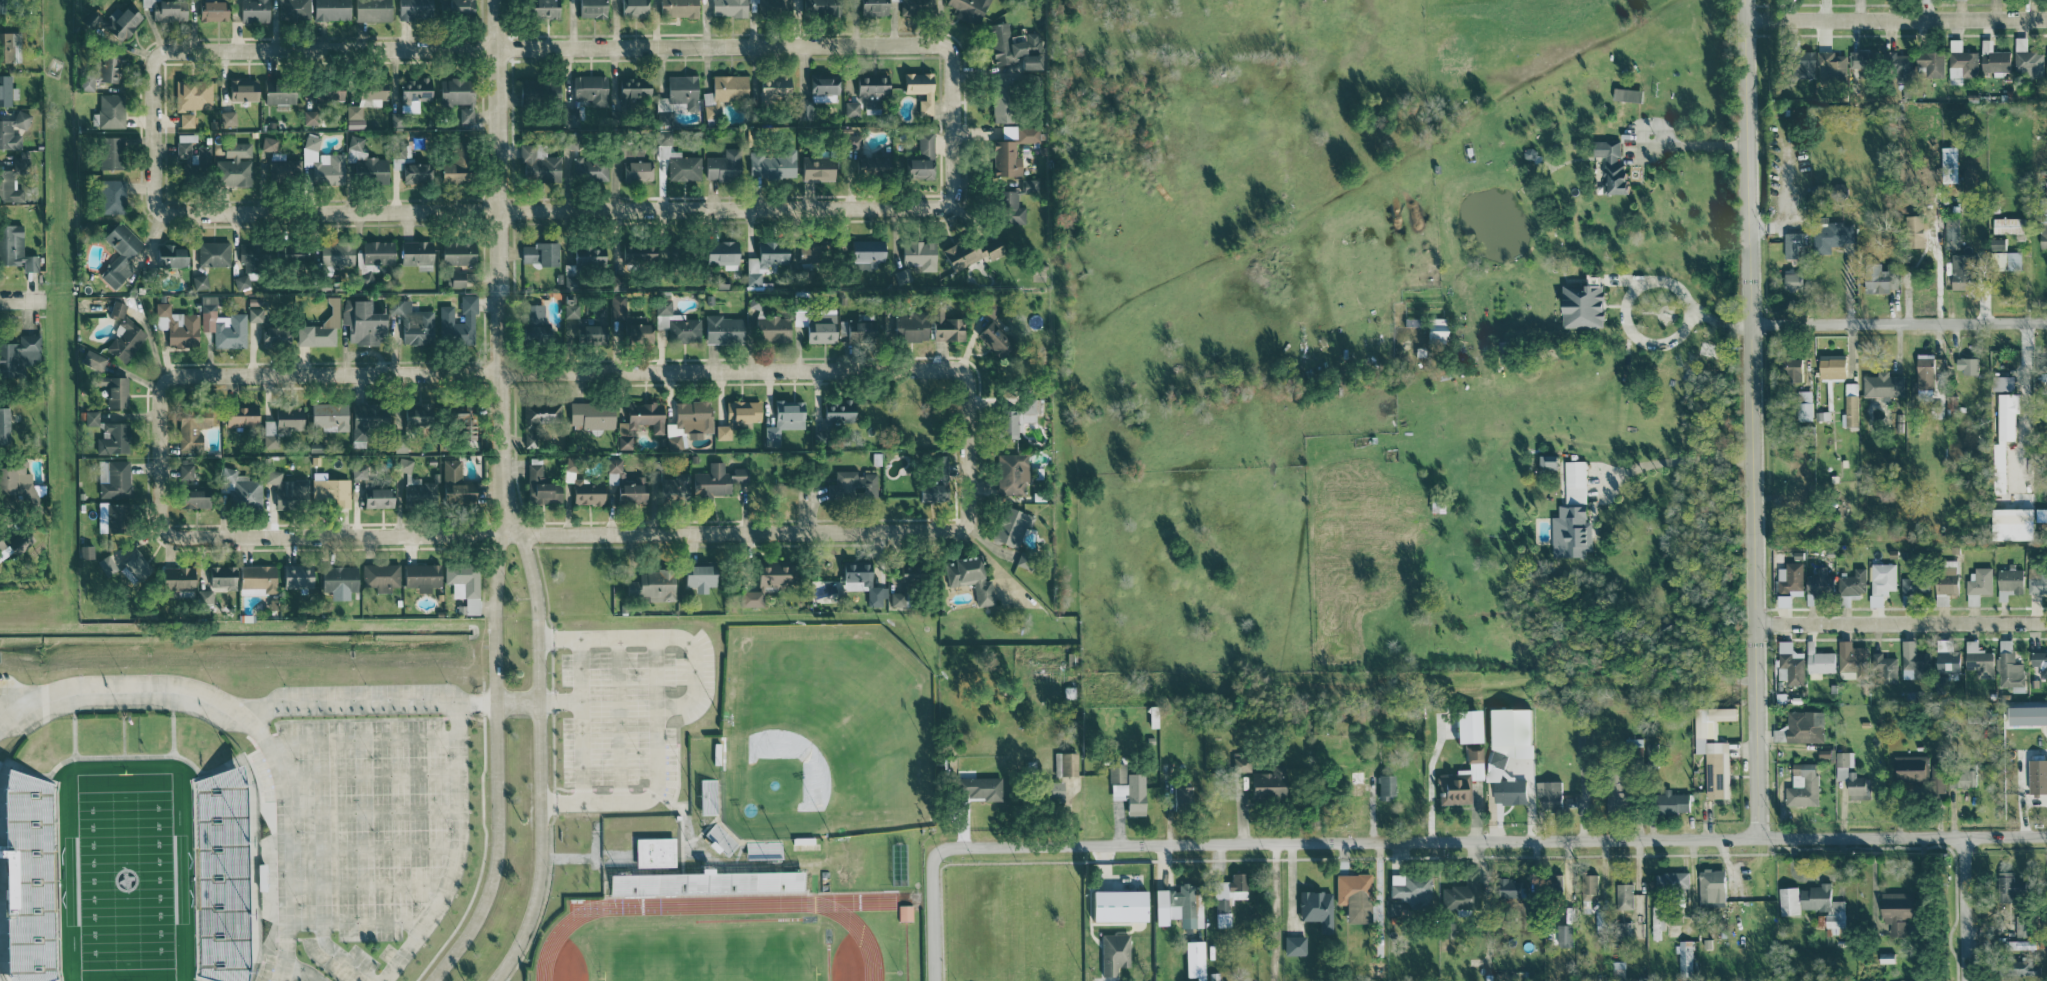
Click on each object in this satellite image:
building: (916, 4)
building: (6, 6)
building: (773, 6)
building: (817, 6)
building: (631, 7)
building: (870, 7)
building: (457, 8)
building: (675, 8)
building: (727, 8)
building: (412, 9)
building: (539, 9)
building: (587, 9)
building: (967, 9)
building: (166, 10)
building: (251, 10)
building: (292, 10)
building: (328, 10)
building: (369, 10)
building: (207, 11)
road: (1895, 18)
building: (114, 24)
building: (1030, 43)
road: (552, 46)
building: (12, 47)
building: (1007, 49)
building: (1960, 56)
building: (1992, 57)
building: (2046, 58)
building: (1859, 59)
building: (2026, 59)
building: (1930, 62)
building: (1800, 64)
building: (1897, 65)
building: (1830, 67)
building: (97, 70)
building: (768, 85)
building: (822, 88)
building: (240, 89)
building: (536, 89)
building: (587, 89)
building: (917, 89)
building: (412, 90)
building: (680, 90)
building: (868, 90)
building: (6, 91)
building: (370, 91)
building: (453, 91)
building: (627, 91)
building: (721, 92)
building: (275, 94)
building: (1625, 94)
building: (191, 95)
building: (1000, 100)
building: (850, 108)
building: (108, 110)
building: (802, 110)
building: (351, 112)
building: (225, 117)
building: (464, 117)
building: (567, 117)
building: (184, 120)
building: (13, 131)
building: (849, 141)
building: (182, 144)
road: (1696, 144)
building: (1009, 149)
building: (399, 151)
building: (107, 152)
building: (919, 158)
building: (676, 161)
building: (232, 163)
building: (279, 163)
building: (322, 163)
building: (363, 163)
building: (536, 164)
building: (770, 164)
building: (452, 165)
building: (631, 165)
building: (721, 165)
building: (1610, 165)
building: (867, 166)
building: (588, 168)
building: (813, 168)
building: (413, 173)
building: (10, 188)
building: (108, 196)
building: (1008, 208)
road: (551, 210)
building: (2044, 222)
building: (2009, 226)
building: (1912, 231)
building: (1950, 232)
building: (1830, 236)
building: (1995, 243)
building: (1793, 244)
building: (17, 248)
building: (246, 251)
building: (812, 251)
building: (116, 252)
building: (374, 252)
building: (413, 252)
building: (455, 252)
building: (633, 252)
building: (969, 252)
building: (211, 253)
building: (536, 253)
building: (719, 253)
building: (286, 254)
building: (333, 254)
building: (863, 254)
building: (917, 255)
building: (168, 256)
building: (585, 256)
building: (763, 260)
building: (2004, 260)
road: (499, 267)
building: (1959, 271)
building: (455, 278)
building: (1874, 278)
building: (199, 283)
building: (240, 283)
road: (1675, 287)
road: (21, 301)
building: (1580, 305)
building: (569, 310)
building: (253, 315)
road: (1897, 321)
building: (456, 322)
building: (628, 322)
building: (408, 323)
building: (361, 324)
building: (675, 324)
building: (221, 325)
building: (943, 325)
building: (175, 326)
building: (816, 326)
building: (907, 327)
building: (317, 328)
building: (770, 328)
building: (589, 329)
building: (721, 330)
building: (1433, 330)
building: (854, 331)
building: (122, 335)
building: (271, 335)
building: (991, 338)
road: (1638, 338)
building: (90, 360)
building: (1966, 365)
building: (1831, 367)
building: (1790, 369)
building: (1924, 370)
road: (562, 371)
building: (1883, 385)
building: (111, 390)
building: (1803, 404)
building: (1850, 405)
building: (1027, 409)
building: (740, 411)
building: (834, 413)
building: (541, 414)
building: (237, 415)
building: (409, 415)
building: (588, 415)
building: (326, 416)
building: (691, 416)
building: (87, 418)
building: (456, 418)
building: (783, 419)
road: (1749, 419)
building: (363, 420)
building: (281, 422)
building: (637, 422)
building: (1006, 424)
building: (6, 426)
building: (189, 430)
building: (721, 432)
building: (2002, 438)
building: (110, 439)
building: (673, 441)
road: (1678, 460)
building: (402, 465)
building: (939, 469)
building: (183, 471)
building: (612, 471)
building: (1010, 474)
building: (112, 479)
building: (715, 480)
building: (452, 483)
building: (853, 484)
building: (21, 486)
building: (538, 487)
building: (672, 488)
building: (284, 489)
building: (238, 490)
building: (417, 490)
building: (329, 491)
building: (630, 492)
building: (584, 493)
building: (374, 497)
building: (189, 499)
building: (1571, 515)
building: (106, 517)
building: (2043, 521)
building: (2011, 523)
building: (1010, 528)
road: (562, 533)
building: (20, 545)
building: (83, 552)
building: (1777, 559)
building: (131, 563)
building: (104, 565)
building: (768, 574)
building: (904, 574)
building: (298, 576)
building: (224, 577)
building: (381, 577)
building: (422, 577)
building: (697, 577)
building: (179, 578)
building: (967, 578)
building: (1789, 579)
building: (259, 580)
building: (340, 580)
building: (2037, 580)
building: (1852, 582)
building: (1880, 582)
building: (2008, 582)
building: (865, 584)
building: (1817, 585)
building: (1913, 585)
building: (1944, 585)
building: (1977, 585)
building: (650, 586)
building: (465, 587)
building: (202, 598)
building: (749, 598)
building: (894, 600)
building: (1782, 601)
road: (1900, 621)
building: (1945, 659)
building: (1978, 659)
building: (1912, 661)
building: (1817, 662)
building: (2039, 662)
building: (1789, 664)
building: (1848, 665)
building: (2008, 666)
building: (1886, 670)
parking lot: (364, 694)
road: (13, 696)
road: (560, 700)
road: (517, 701)
road: (370, 704)
road: (678, 705)
parking lot: (631, 713)
road: (248, 719)
road: (582, 720)
building: (1464, 725)
building: (1506, 725)
building: (1803, 726)
park: (824, 732)
building: (1777, 733)
building: (1499, 747)
building: (1712, 750)
stadium: (820, 754)
road: (539, 759)
building: (1495, 759)
building: (1063, 763)
road: (496, 764)
building: (1239, 764)
building: (1910, 768)
building: (2037, 775)
building: (1961, 776)
building: (1851, 778)
building: (1459, 779)
building: (1937, 779)
building: (1355, 782)
building: (1265, 783)
building: (1384, 784)
building: (1801, 784)
building: (977, 787)
building: (1614, 787)
building: (1125, 788)
building: (1050, 790)
building: (1507, 790)
building: (1178, 793)
road: (1430, 793)
building: (1547, 794)
road: (1924, 796)
building: (1579, 800)
building: (1670, 801)
parking lot: (369, 822)
building: (719, 838)
road: (1641, 841)
road: (1429, 843)
stadium: (129, 852)
road: (457, 852)
building: (652, 852)
road: (567, 857)
park: (126, 870)
road: (1487, 872)
building: (2046, 875)
building: (220, 876)
building: (30, 878)
road: (1570, 878)
building: (1671, 879)
building: (1551, 883)
building: (1710, 883)
building: (701, 885)
building: (2004, 885)
building: (1509, 886)
building: (1588, 888)
building: (1409, 890)
building: (1462, 892)
building: (1623, 895)
building: (1353, 896)
building: (1226, 897)
building: (1802, 898)
building: (1119, 906)
building: (1175, 906)
building: (1315, 907)
building: (1894, 910)
road: (1968, 911)
building: (904, 913)
road: (1276, 913)
building: (1835, 916)
building: (1656, 923)
building: (2020, 925)
stadium: (730, 927)
building: (1446, 929)
building: (1620, 931)
building: (1563, 934)
road: (1900, 934)
track: (863, 936)
building: (2020, 943)
building: (1292, 945)
track: (709, 949)
park: (710, 953)
building: (1113, 954)
building: (1684, 955)
parking lot: (391, 956)
building: (1885, 956)
building: (1192, 958)
parking lot: (342, 959)
building: (1617, 967)
building: (2021, 967)
road: (301, 972)

